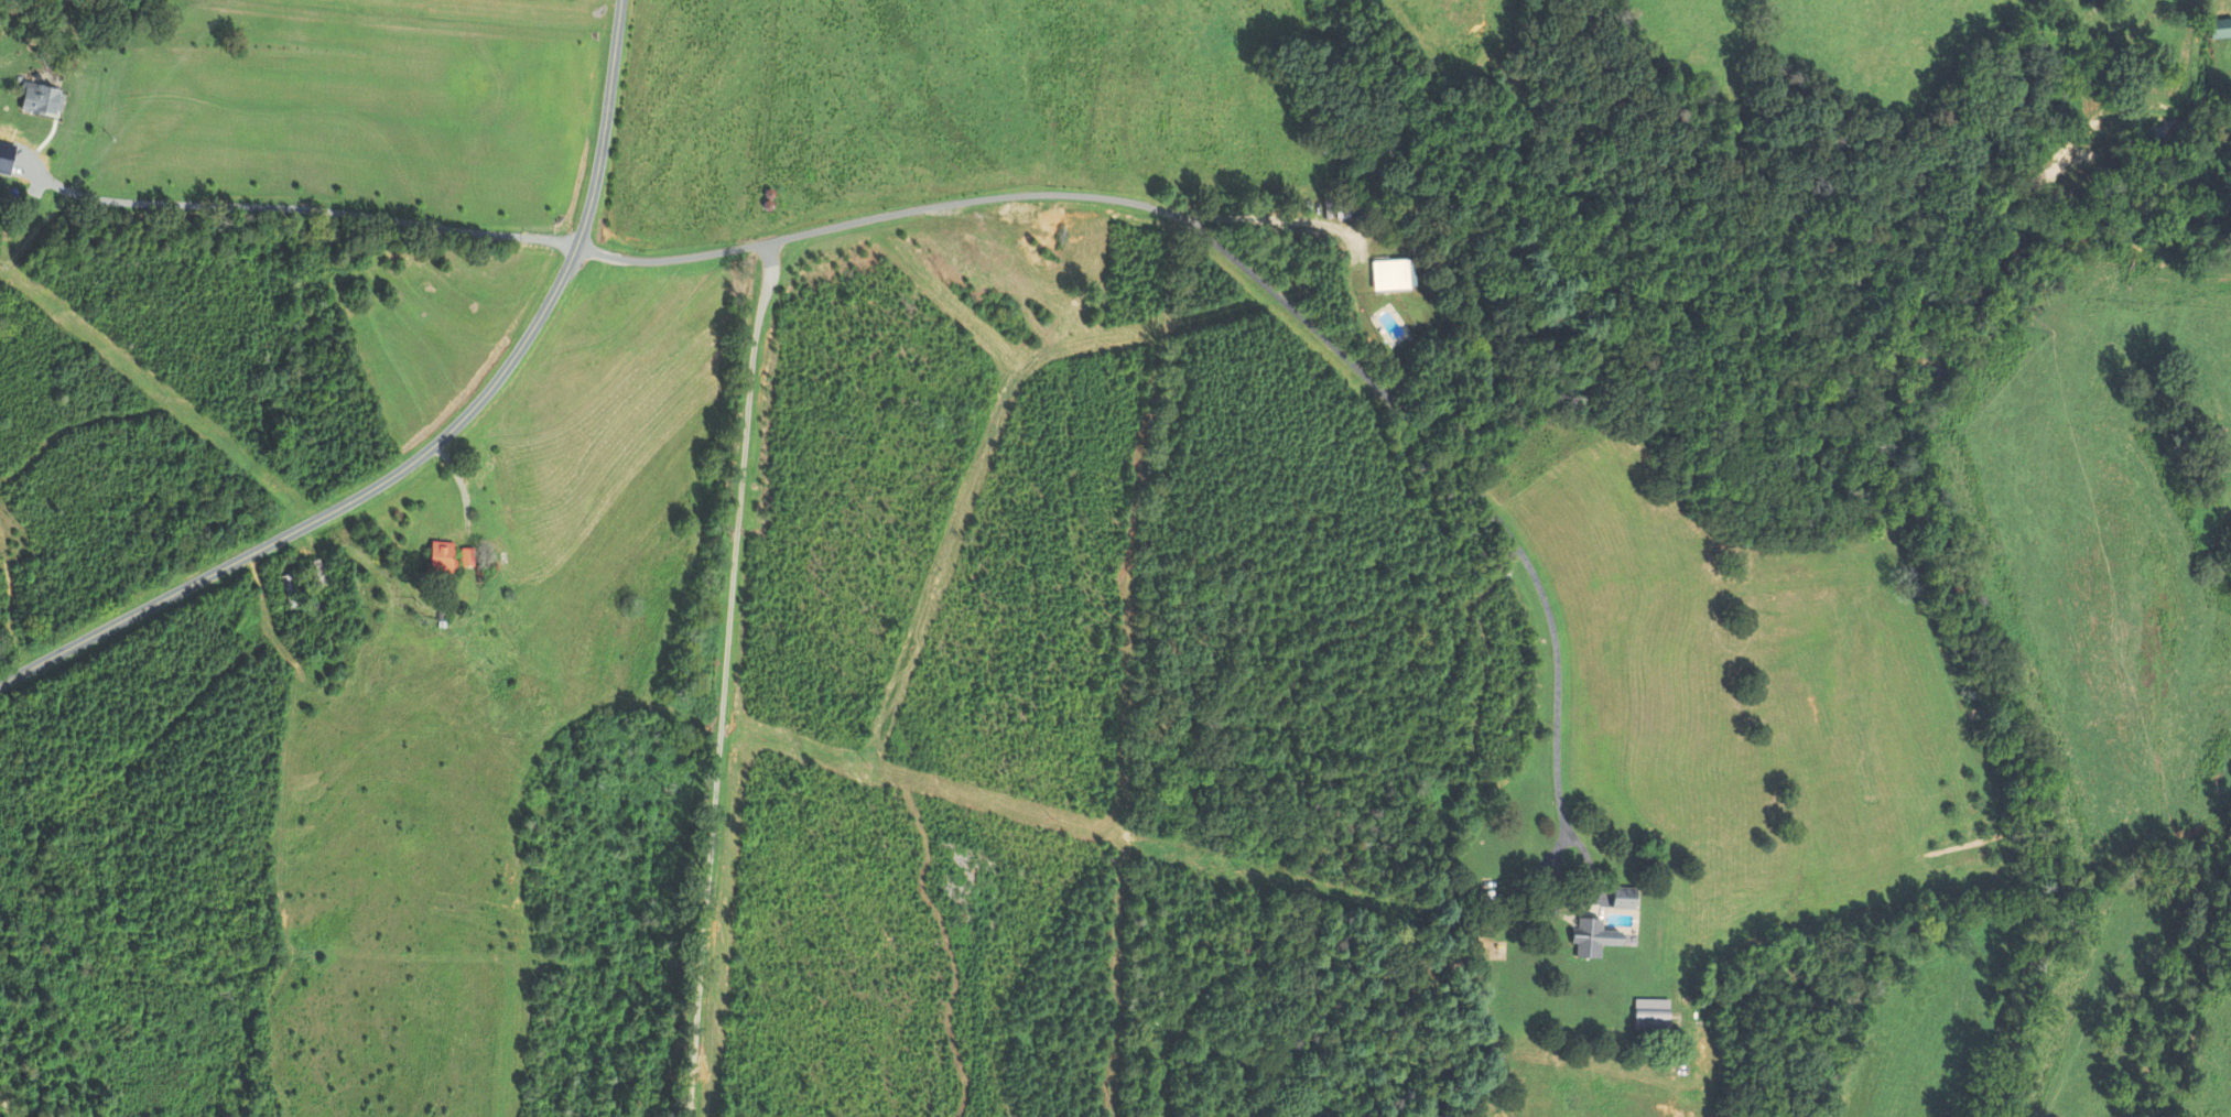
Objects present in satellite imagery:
building: (2219, 29)
building: (39, 98)
road: (296, 207)
building: (1342, 212)
building: (1389, 274)
road: (1301, 295)
road: (426, 430)
building: (465, 556)
building: (441, 557)
building: (316, 576)
building: (290, 590)
road: (724, 681)
building: (1623, 898)
building: (1595, 939)
building: (1650, 1015)

